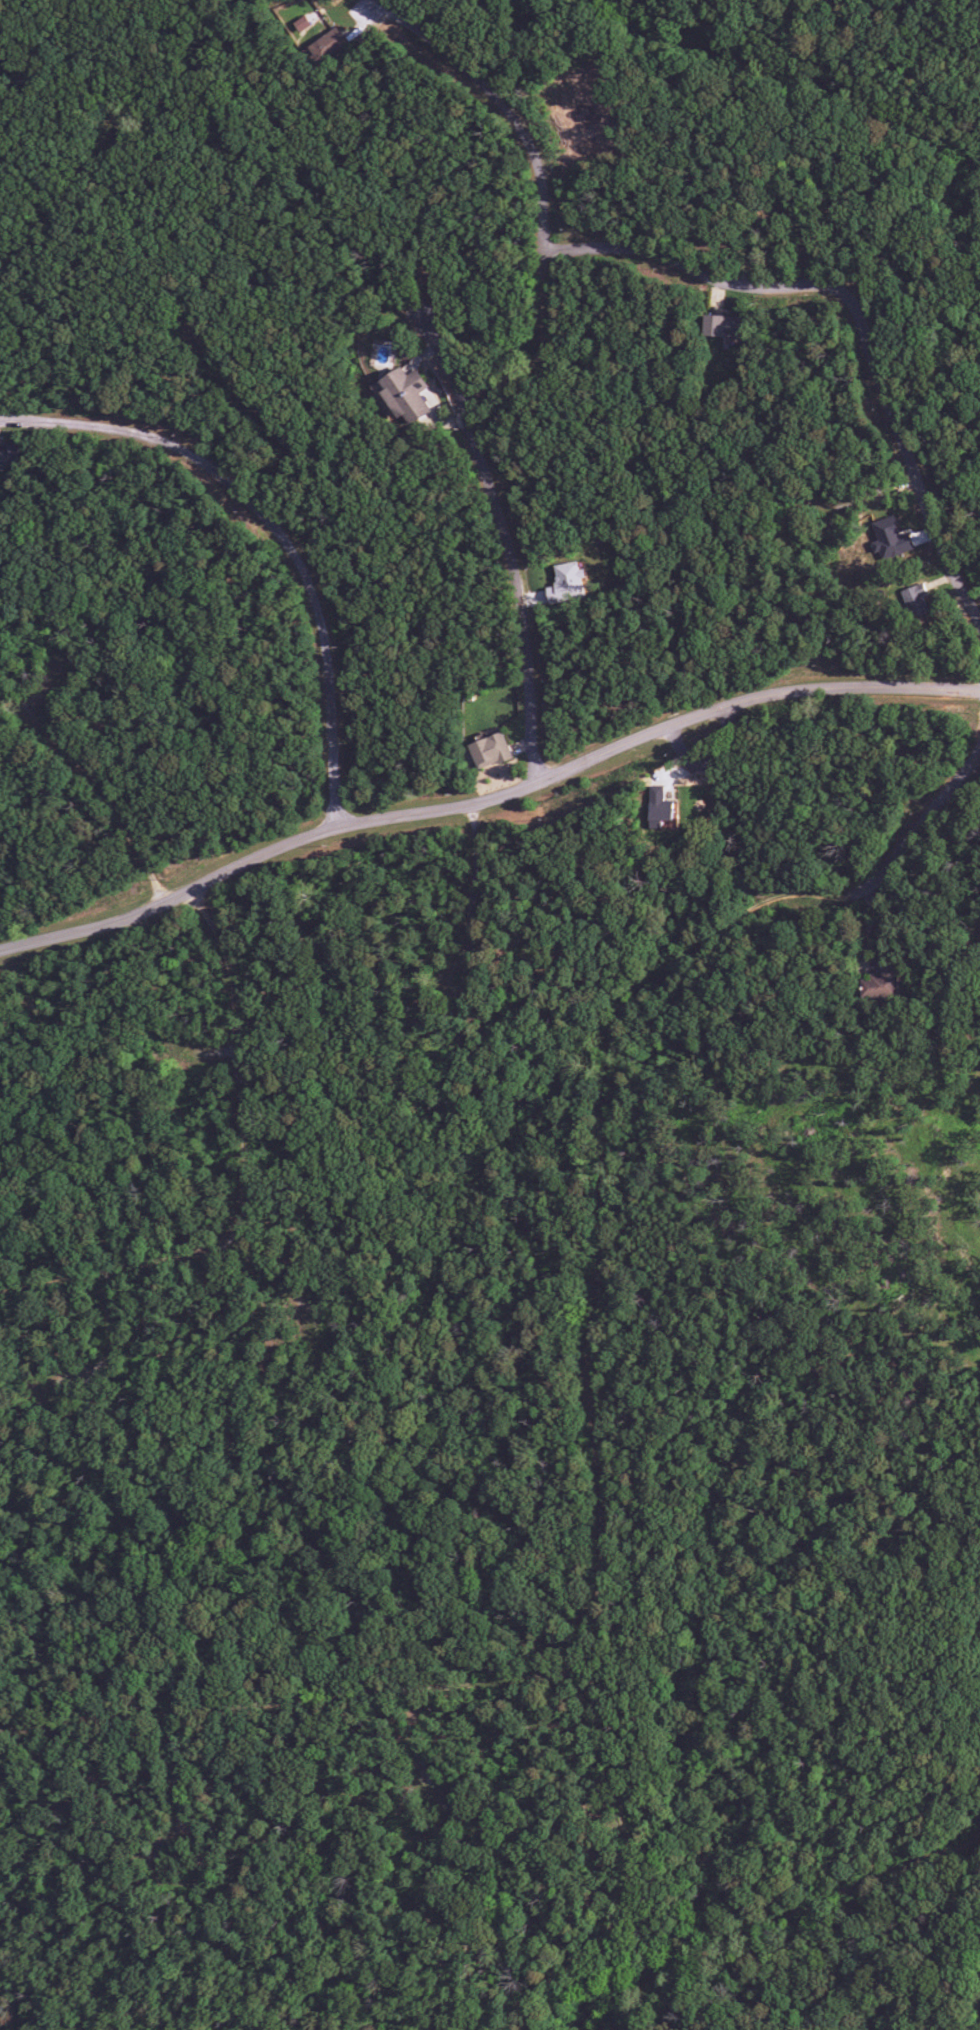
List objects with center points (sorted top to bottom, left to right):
building: (328, 46)
road: (791, 74)
road: (546, 193)
road: (62, 209)
road: (753, 241)
road: (857, 313)
building: (721, 326)
building: (406, 394)
road: (257, 405)
building: (9, 454)
road: (874, 488)
road: (278, 531)
building: (889, 539)
road: (511, 548)
building: (566, 583)
building: (915, 600)
road: (42, 676)
road: (692, 691)
road: (711, 742)
building: (489, 751)
road: (101, 786)
road: (486, 804)
building: (659, 807)
road: (479, 890)
building: (875, 983)
road: (207, 1051)
road: (250, 1187)
road: (284, 1285)
road: (593, 1329)
road: (118, 1346)
road: (285, 1705)
road: (427, 1757)
road: (181, 1789)
road: (772, 1927)
road: (0, 2029)

